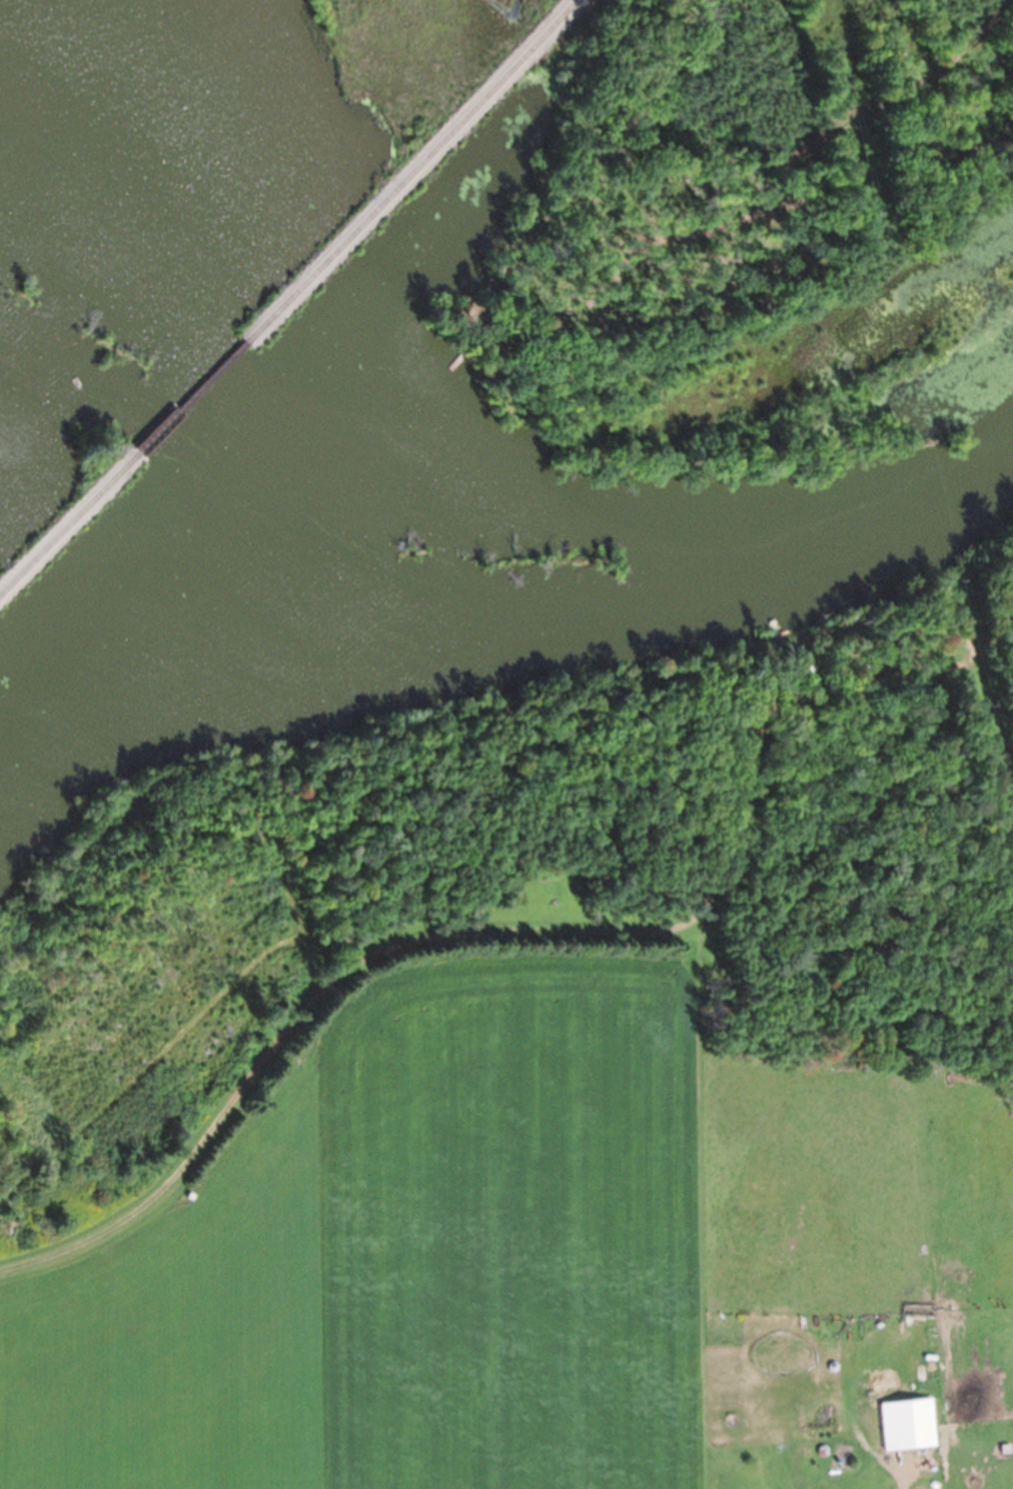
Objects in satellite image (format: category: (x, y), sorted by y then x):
railway: (412, 170)
railway: (200, 398)
river: (494, 486)
railway: (72, 528)
building: (907, 1424)

